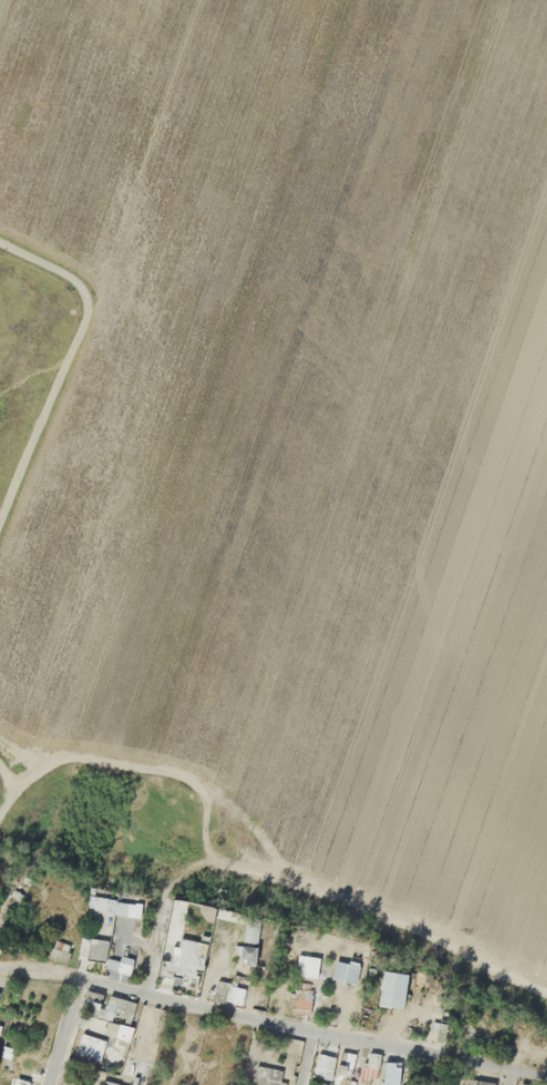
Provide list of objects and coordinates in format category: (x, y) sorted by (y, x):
road: (63, 357)
road: (4, 780)
road: (6, 802)
road: (151, 944)
road: (273, 1023)
road: (64, 1033)
road: (305, 1058)
road: (508, 1077)

